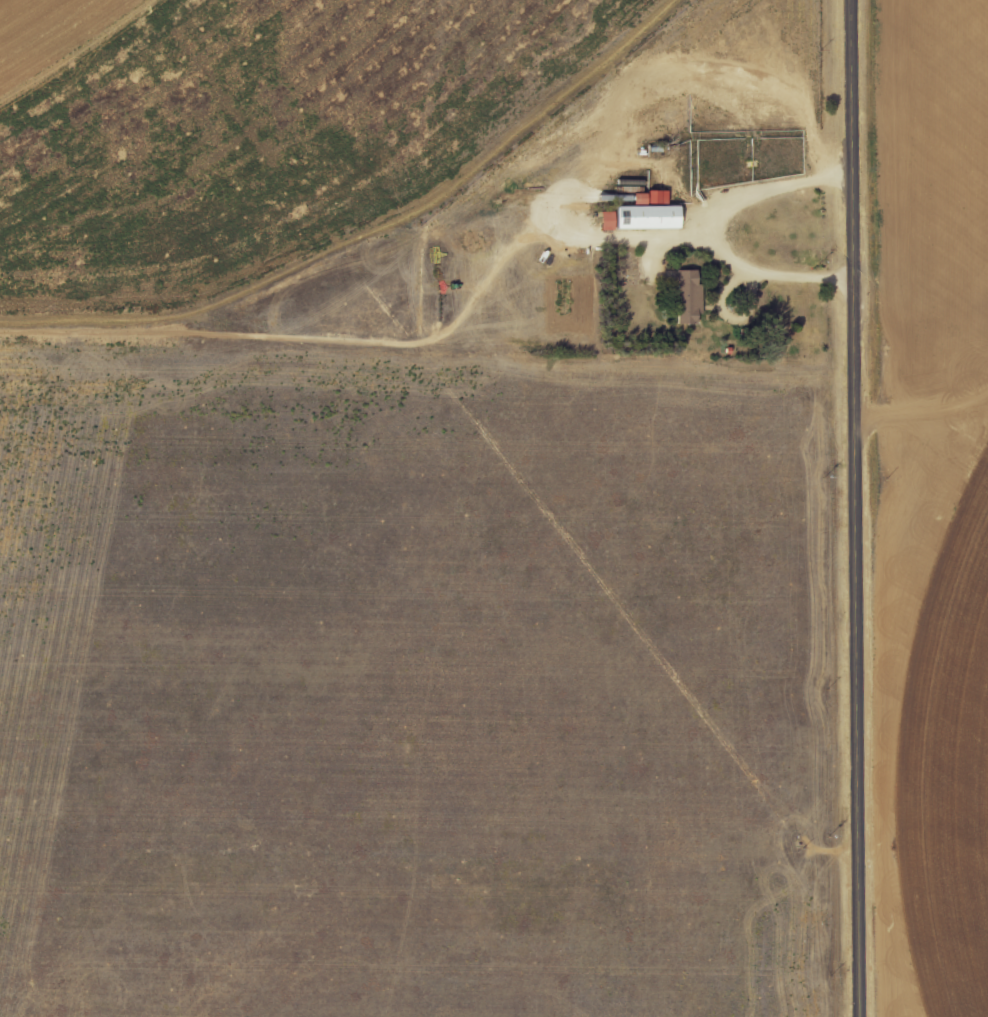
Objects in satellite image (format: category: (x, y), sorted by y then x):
building: (690, 297)
road: (857, 508)

